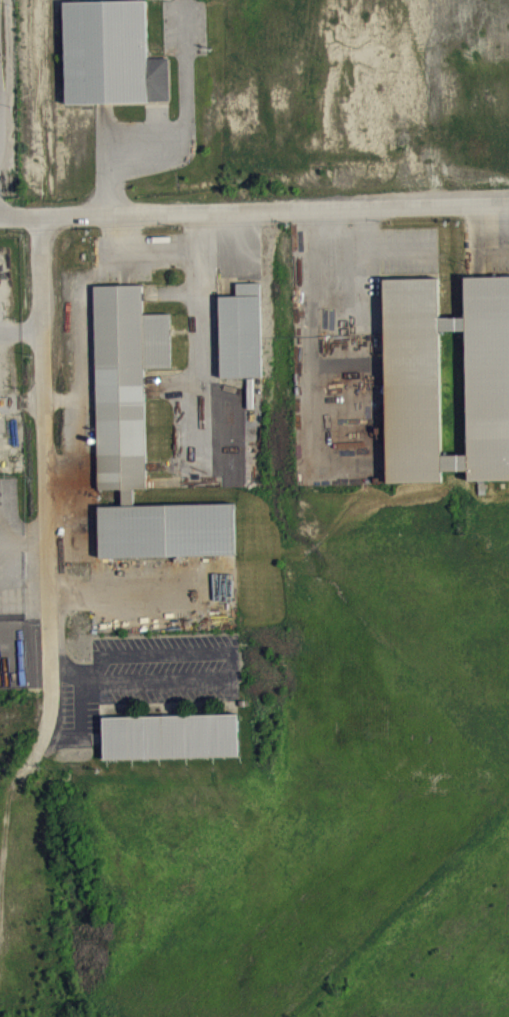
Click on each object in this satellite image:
building: (112, 64)
road: (254, 212)
road: (21, 329)
building: (242, 342)
building: (426, 378)
road: (20, 400)
building: (142, 449)
building: (485, 460)
road: (42, 495)
road: (21, 542)
road: (132, 600)
building: (174, 747)

